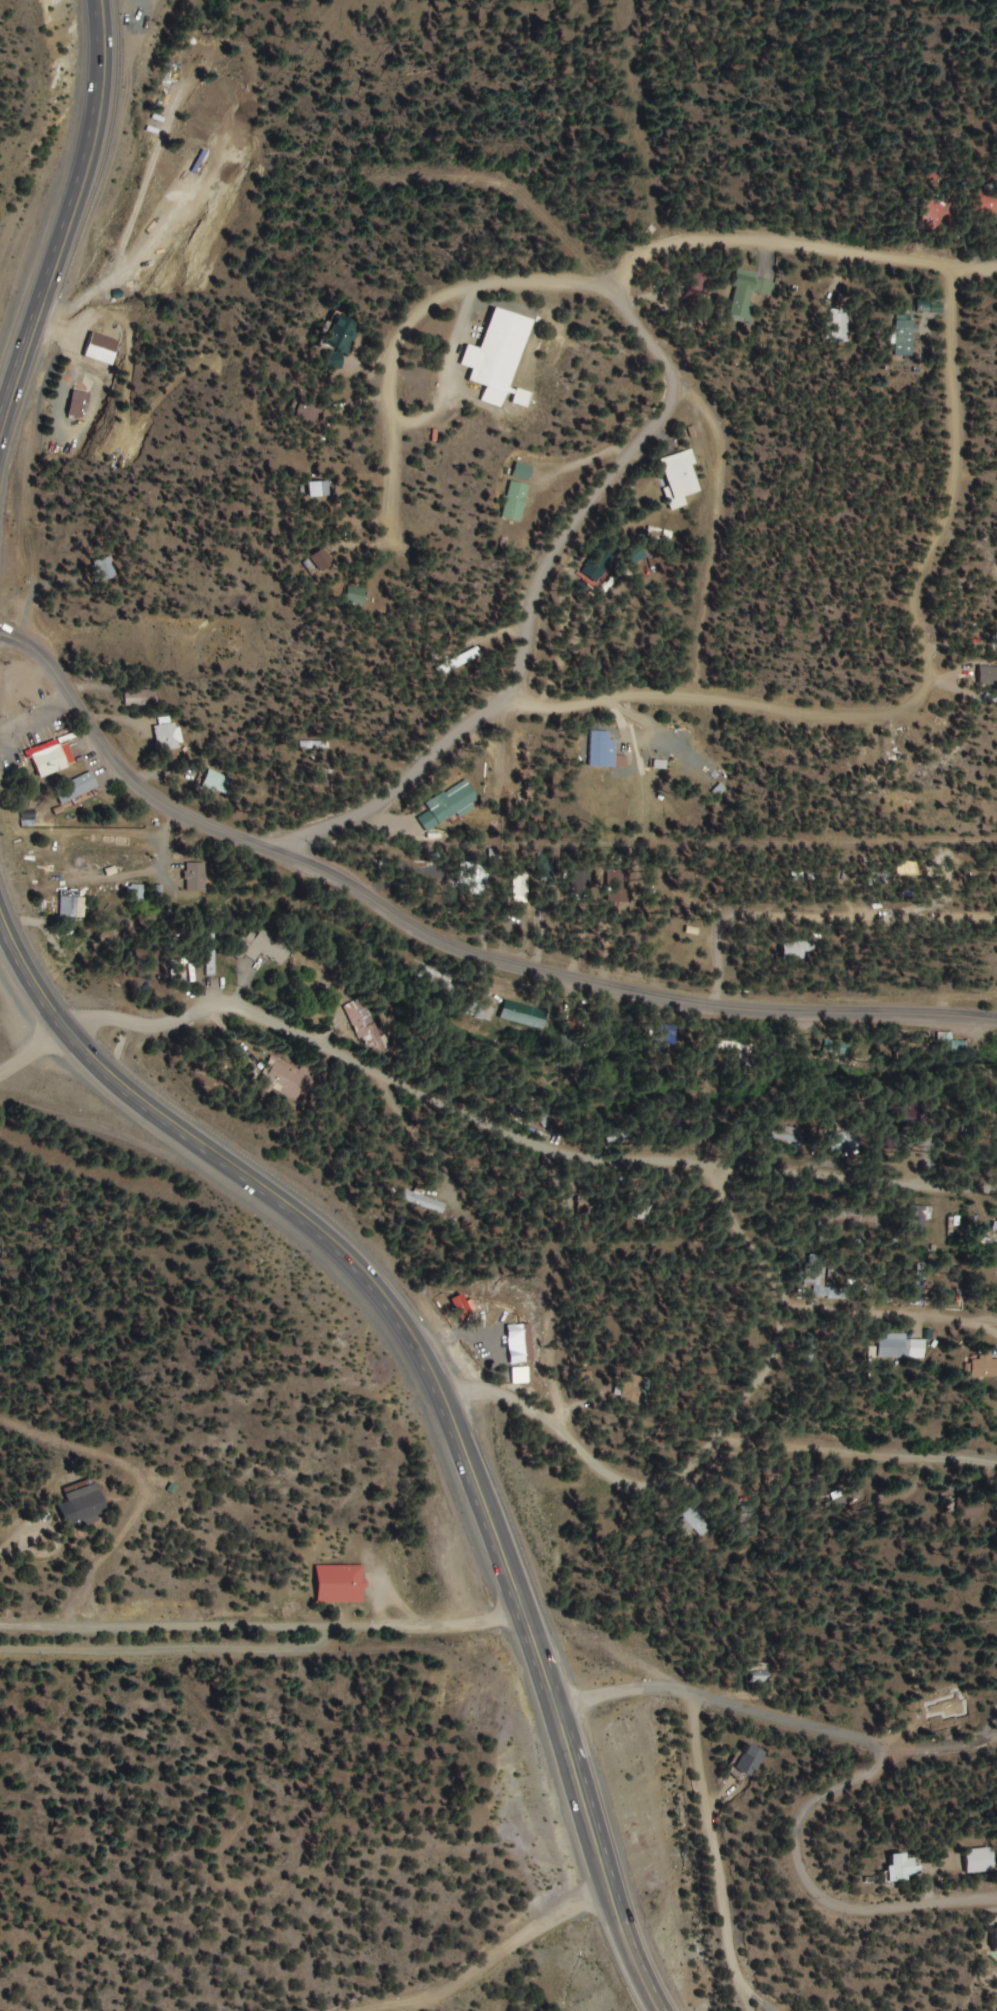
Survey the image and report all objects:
building: (986, 203)
road: (67, 211)
building: (935, 213)
road: (378, 216)
road: (954, 281)
building: (694, 293)
building: (747, 295)
building: (839, 326)
building: (901, 338)
building: (339, 342)
building: (496, 355)
road: (410, 417)
road: (928, 452)
building: (522, 473)
building: (679, 479)
building: (316, 490)
building: (514, 503)
road: (706, 520)
building: (320, 561)
building: (103, 569)
road: (542, 578)
building: (357, 597)
building: (995, 641)
building: (992, 673)
building: (138, 698)
building: (167, 735)
road: (593, 746)
building: (601, 749)
building: (696, 756)
building: (51, 759)
building: (217, 784)
road: (374, 787)
building: (75, 788)
building: (446, 807)
building: (79, 865)
building: (195, 878)
building: (475, 884)
building: (519, 888)
building: (73, 889)
building: (135, 894)
building: (71, 908)
road: (815, 922)
road: (446, 943)
building: (264, 946)
building: (209, 956)
building: (484, 1012)
building: (523, 1014)
building: (364, 1026)
building: (960, 1046)
road: (33, 1047)
building: (843, 1048)
building: (736, 1050)
road: (405, 1071)
building: (283, 1082)
building: (897, 1126)
building: (790, 1137)
building: (850, 1142)
road: (866, 1176)
building: (423, 1202)
road: (315, 1227)
building: (994, 1227)
road: (745, 1229)
building: (823, 1281)
road: (607, 1303)
building: (900, 1348)
building: (982, 1367)
building: (634, 1390)
road: (501, 1398)
road: (874, 1413)
road: (717, 1458)
road: (859, 1480)
building: (84, 1503)
building: (967, 1508)
road: (65, 1535)
building: (338, 1584)
road: (260, 1642)
road: (717, 1701)
road: (932, 1708)
building: (745, 1761)
road: (580, 1815)
road: (708, 1854)
building: (979, 1860)
building: (899, 1868)
road: (812, 1888)
building: (995, 1939)
road: (544, 1951)
road: (758, 2006)

